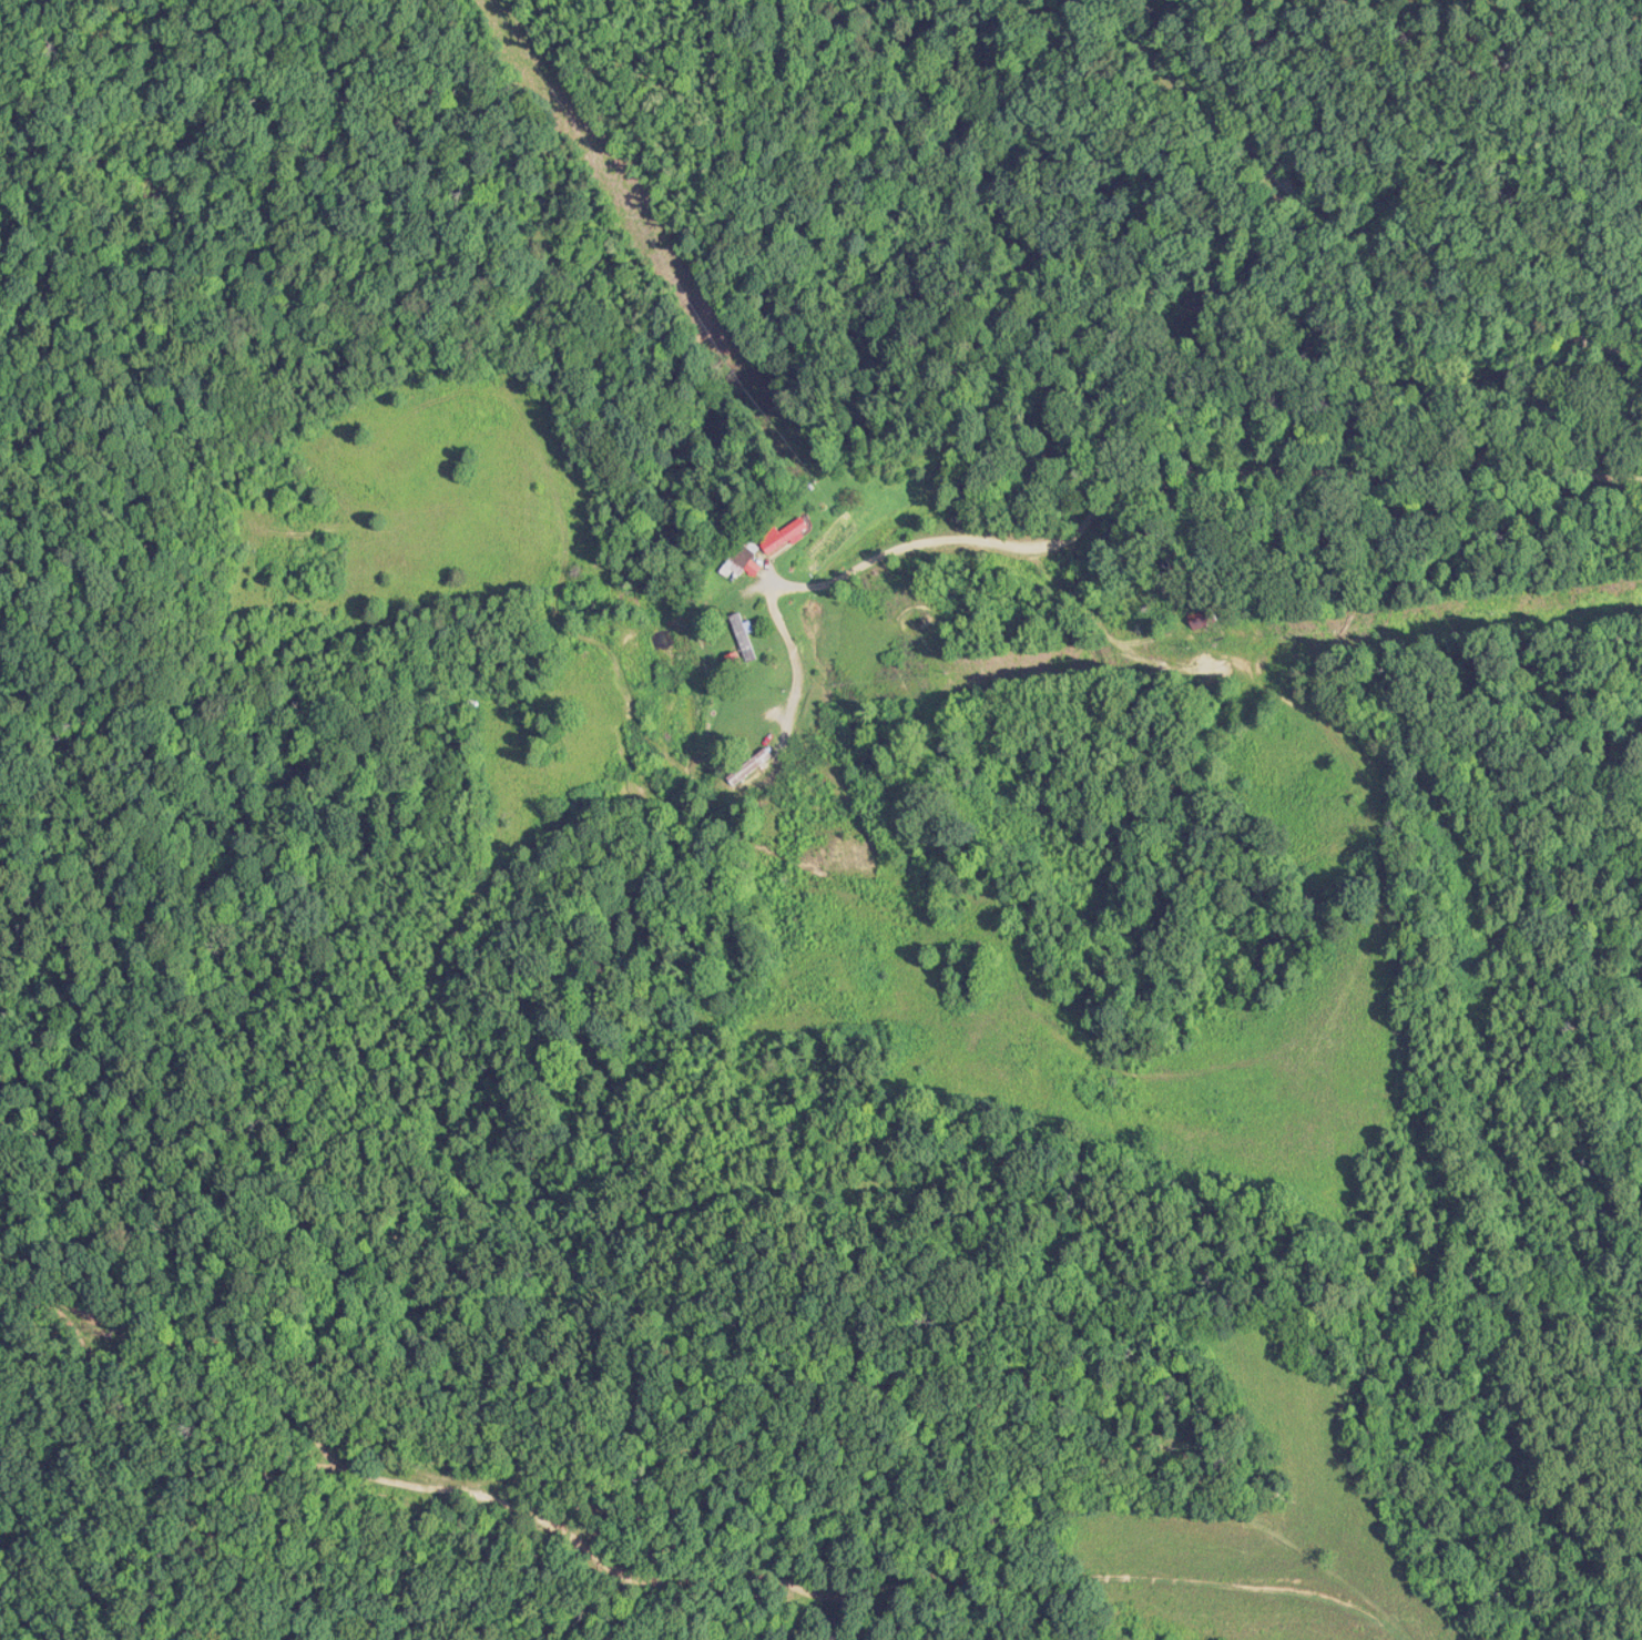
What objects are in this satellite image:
road: (1389, 176)
road: (1190, 497)
building: (785, 536)
building: (738, 559)
building: (1196, 622)
building: (742, 635)
building: (748, 764)

